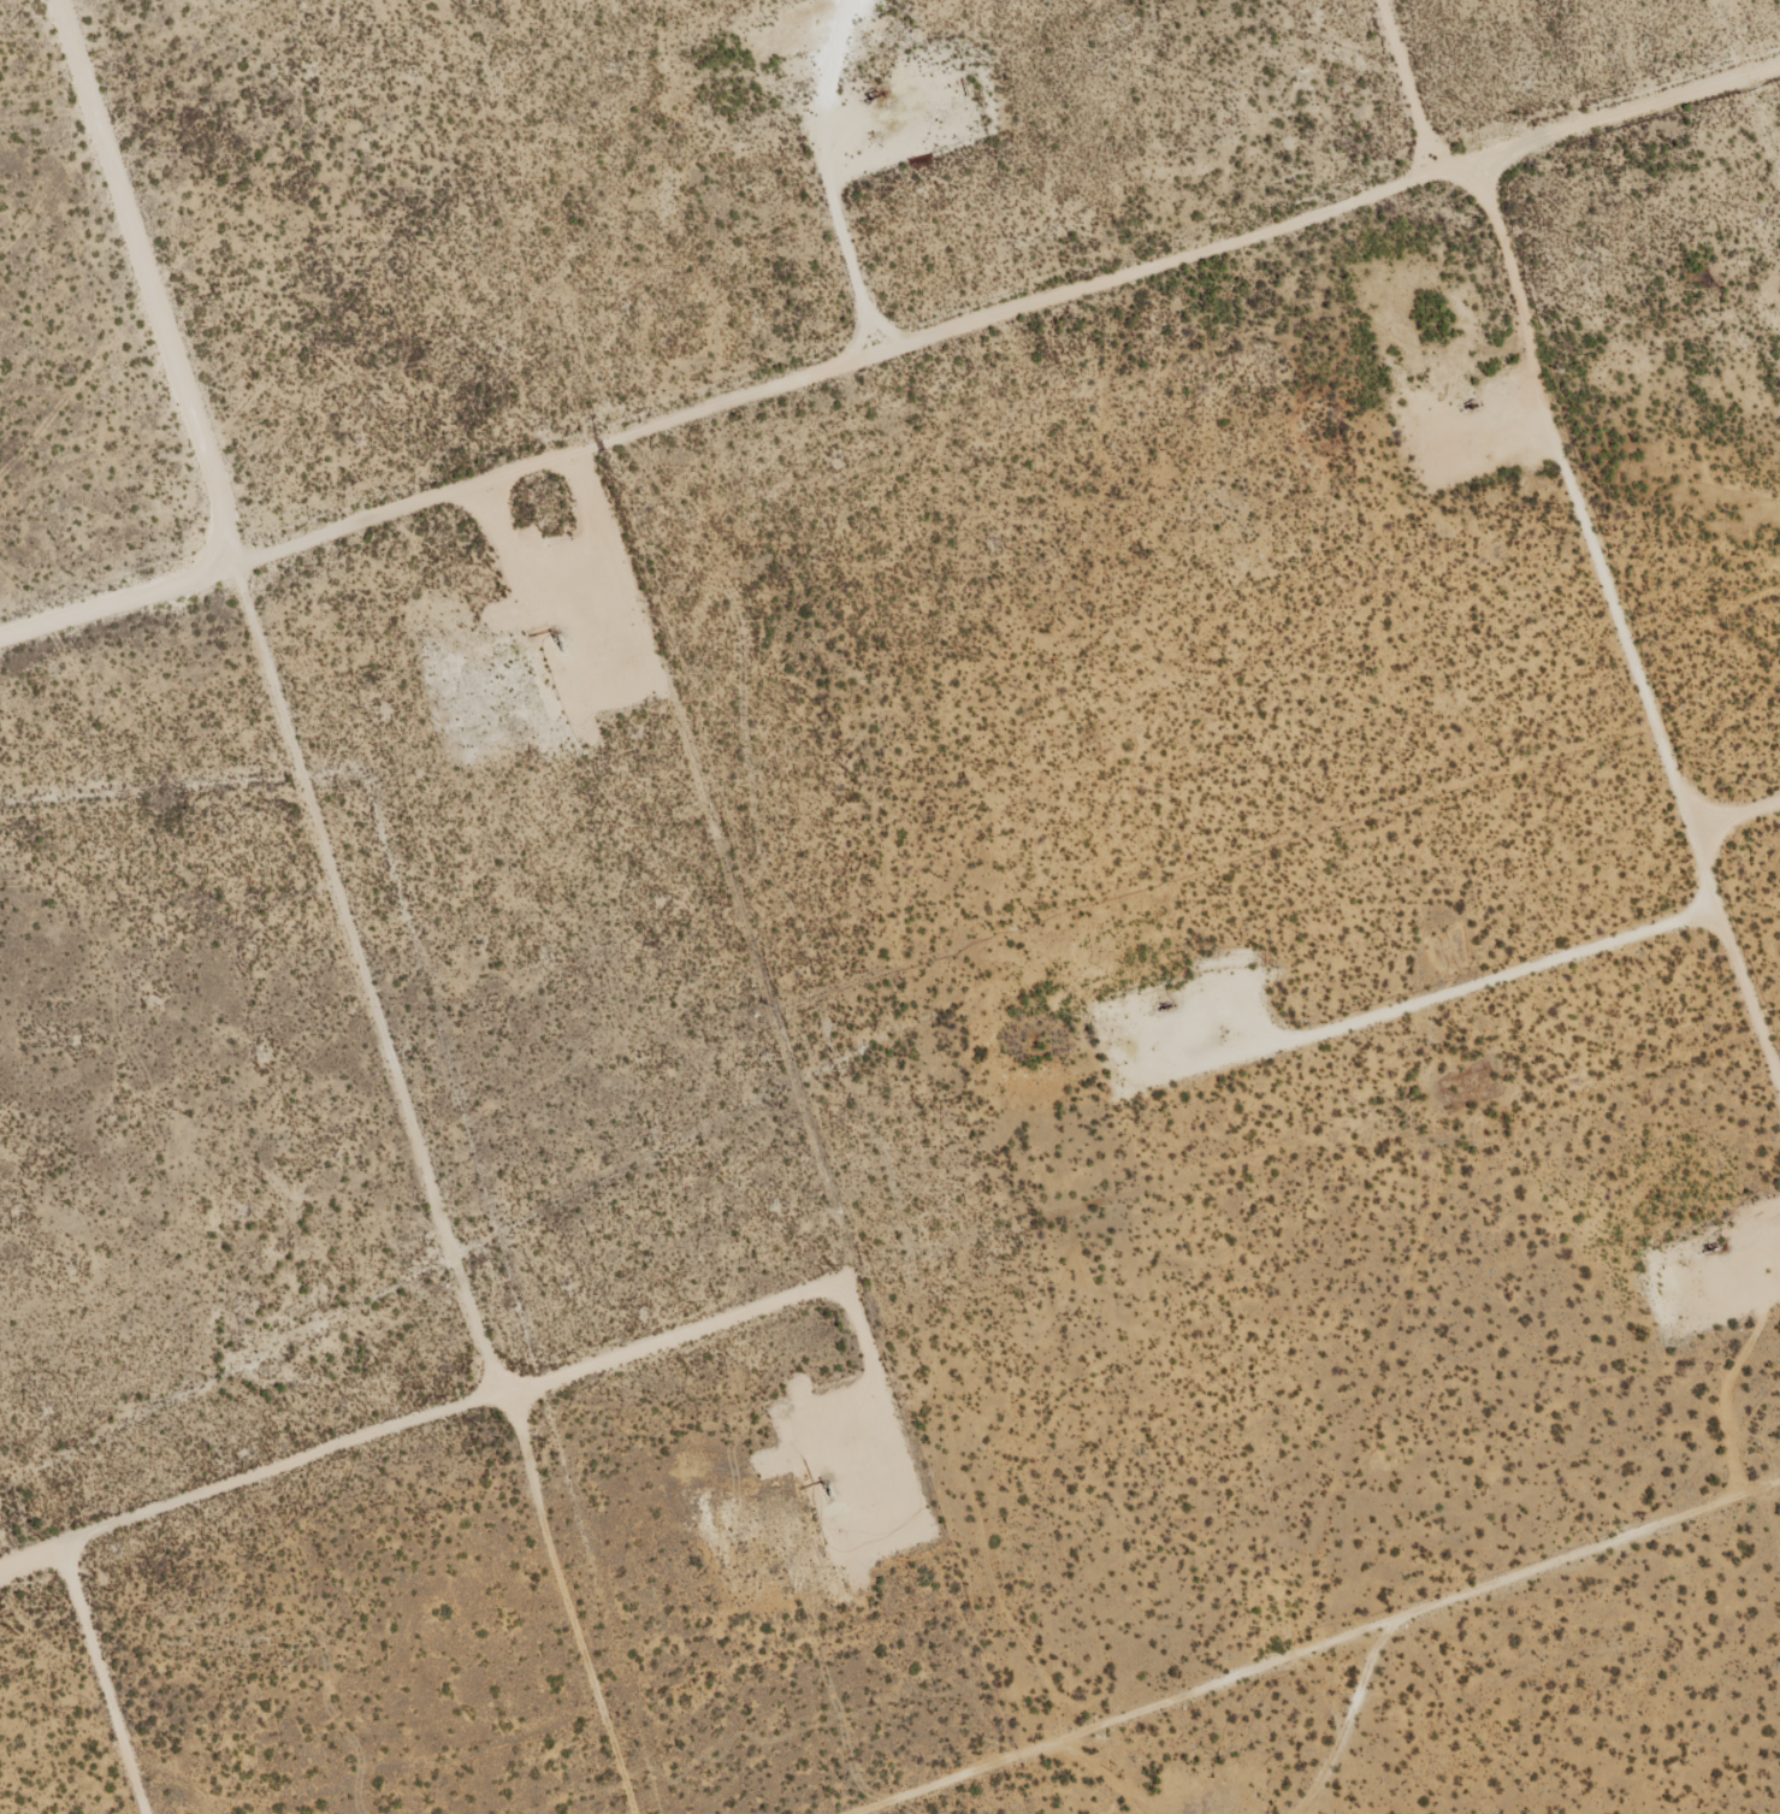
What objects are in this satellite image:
road: (891, 356)
road: (338, 908)
road: (1660, 1076)
road: (249, 1473)
road: (1330, 1651)

